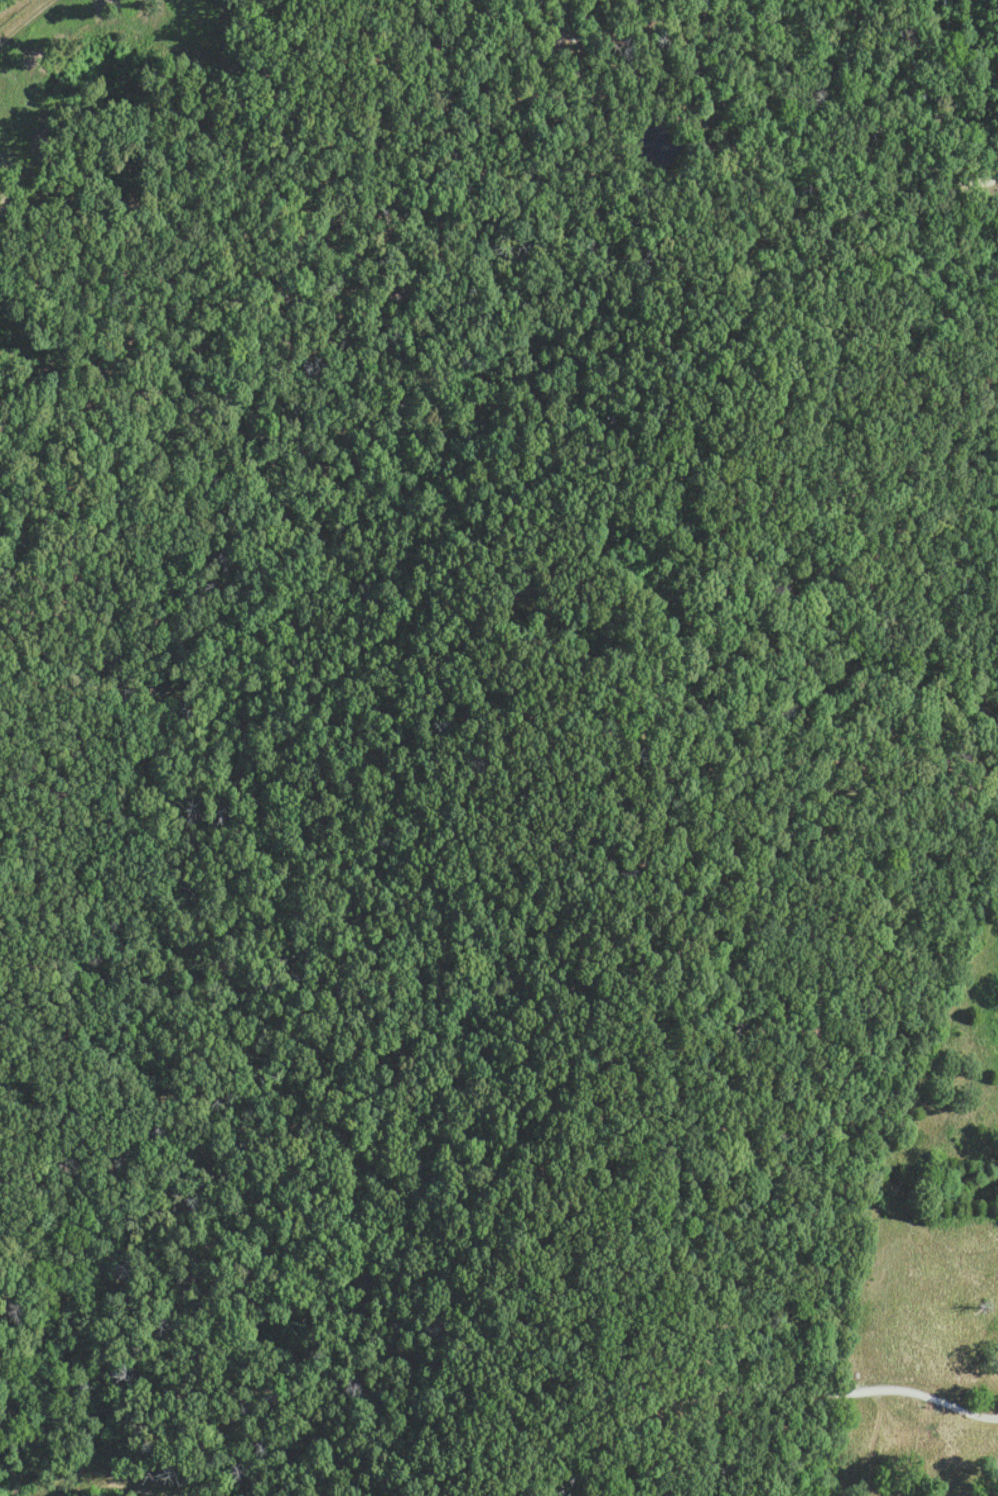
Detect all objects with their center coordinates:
road: (731, 1380)

